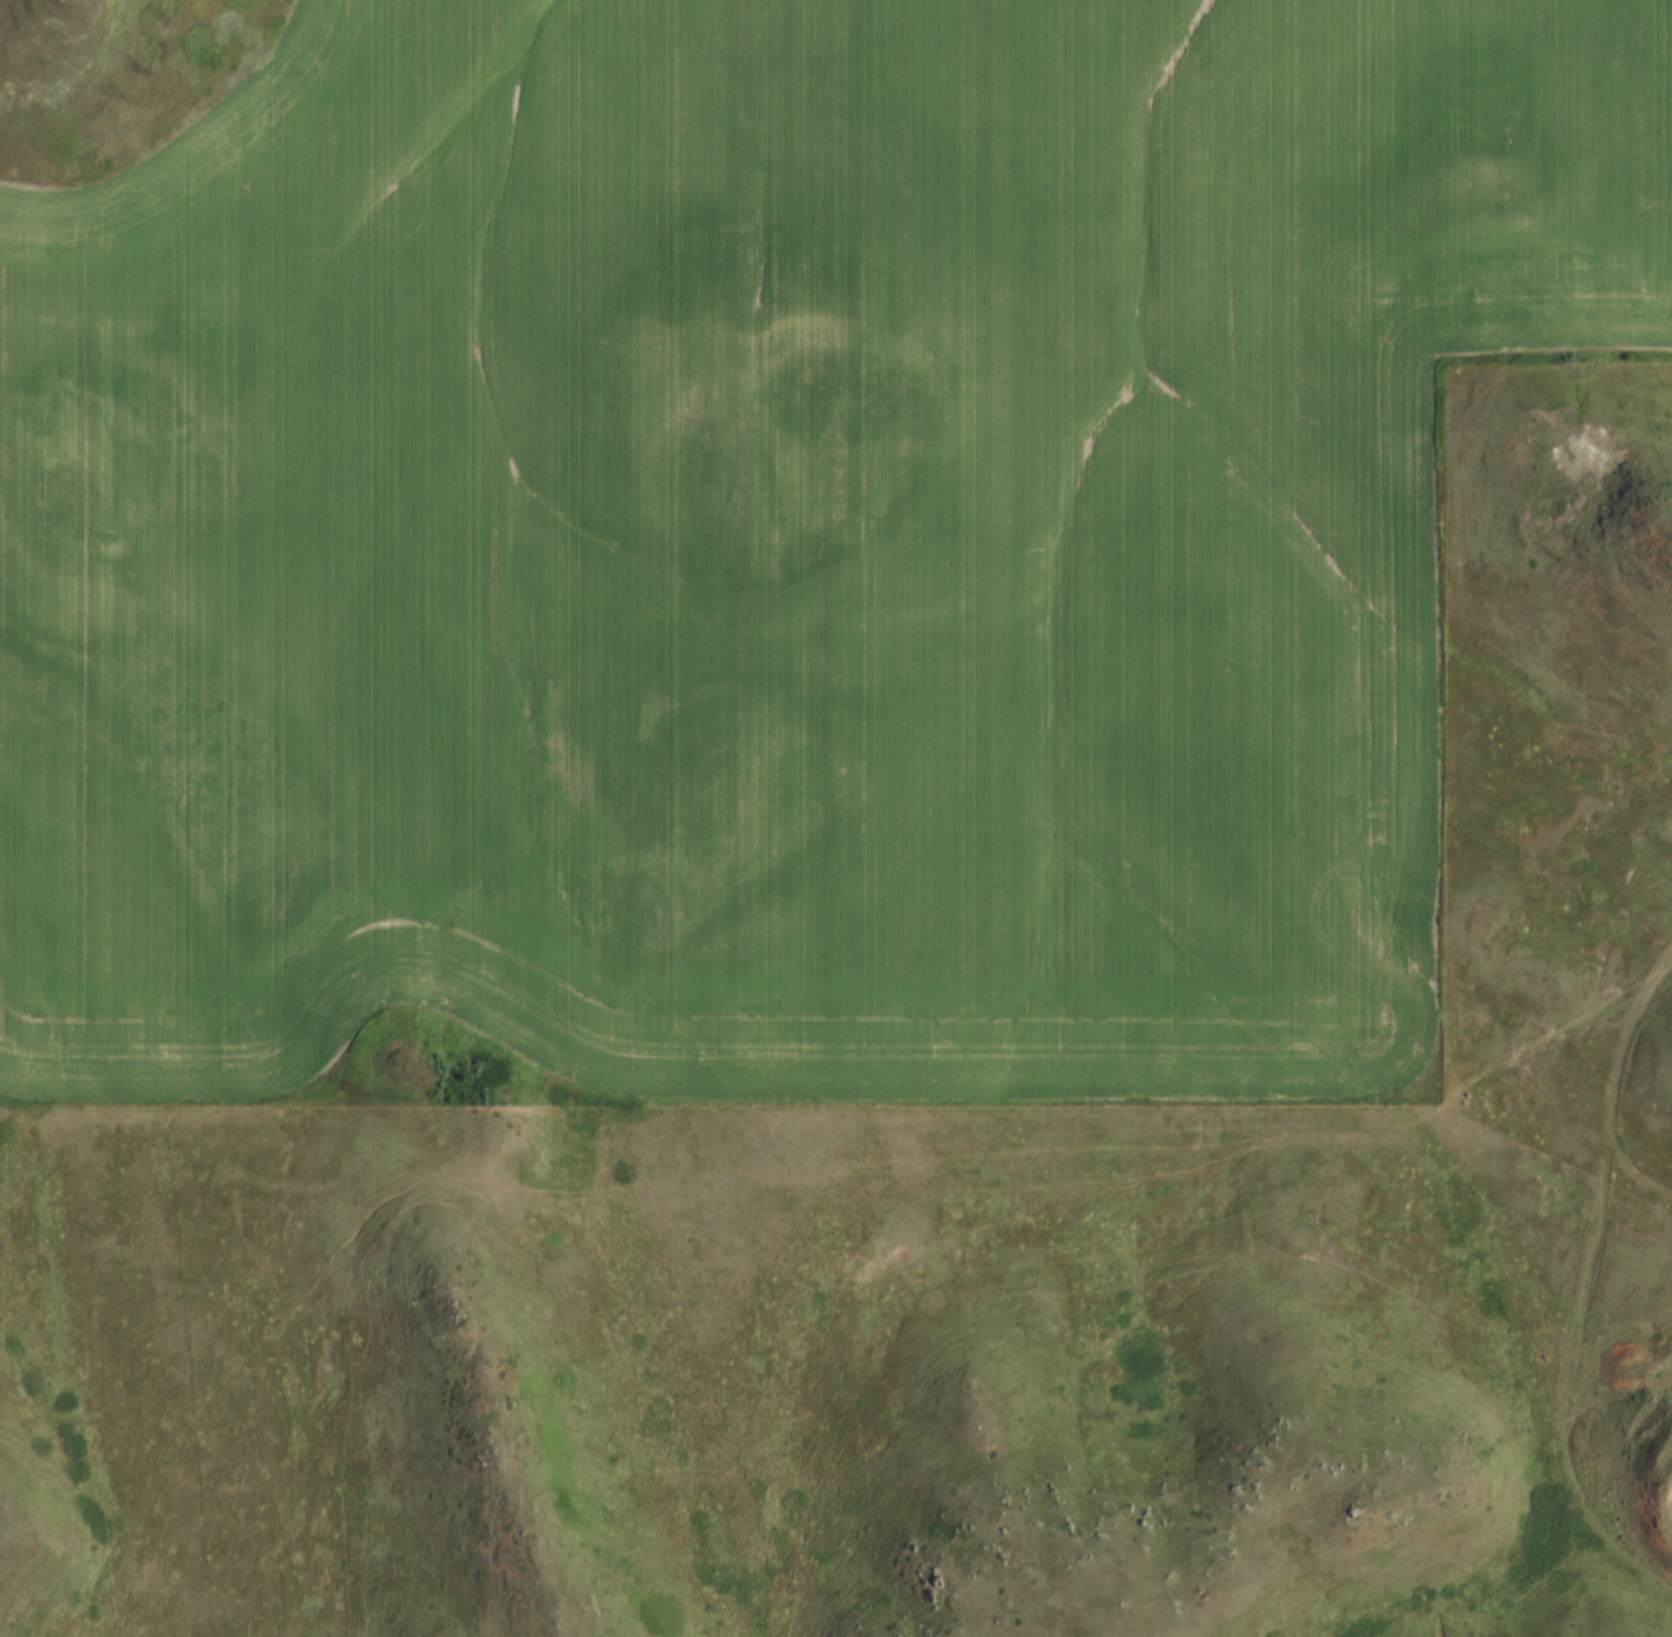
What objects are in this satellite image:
quarry: (1650, 1475)

